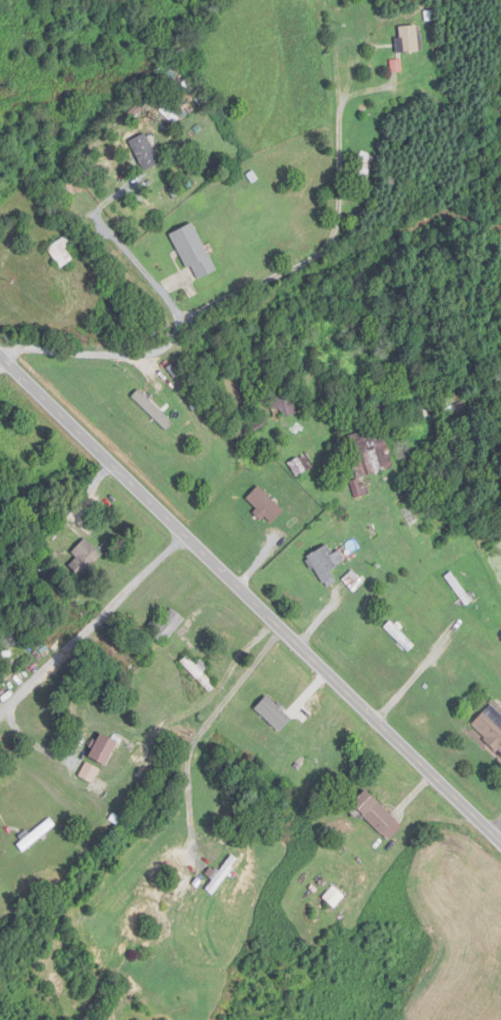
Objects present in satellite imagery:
building: (408, 39)
building: (166, 73)
building: (144, 152)
building: (364, 166)
building: (62, 251)
building: (194, 252)
road: (257, 283)
building: (286, 405)
building: (245, 426)
building: (368, 457)
building: (302, 465)
road: (397, 549)
building: (85, 558)
building: (326, 563)
building: (347, 583)
building: (459, 589)
road: (249, 601)
building: (168, 624)
road: (92, 626)
building: (401, 636)
building: (199, 673)
building: (274, 713)
building: (490, 726)
road: (199, 727)
building: (104, 749)
building: (90, 772)
building: (375, 811)
building: (38, 833)
building: (221, 874)
building: (334, 896)

